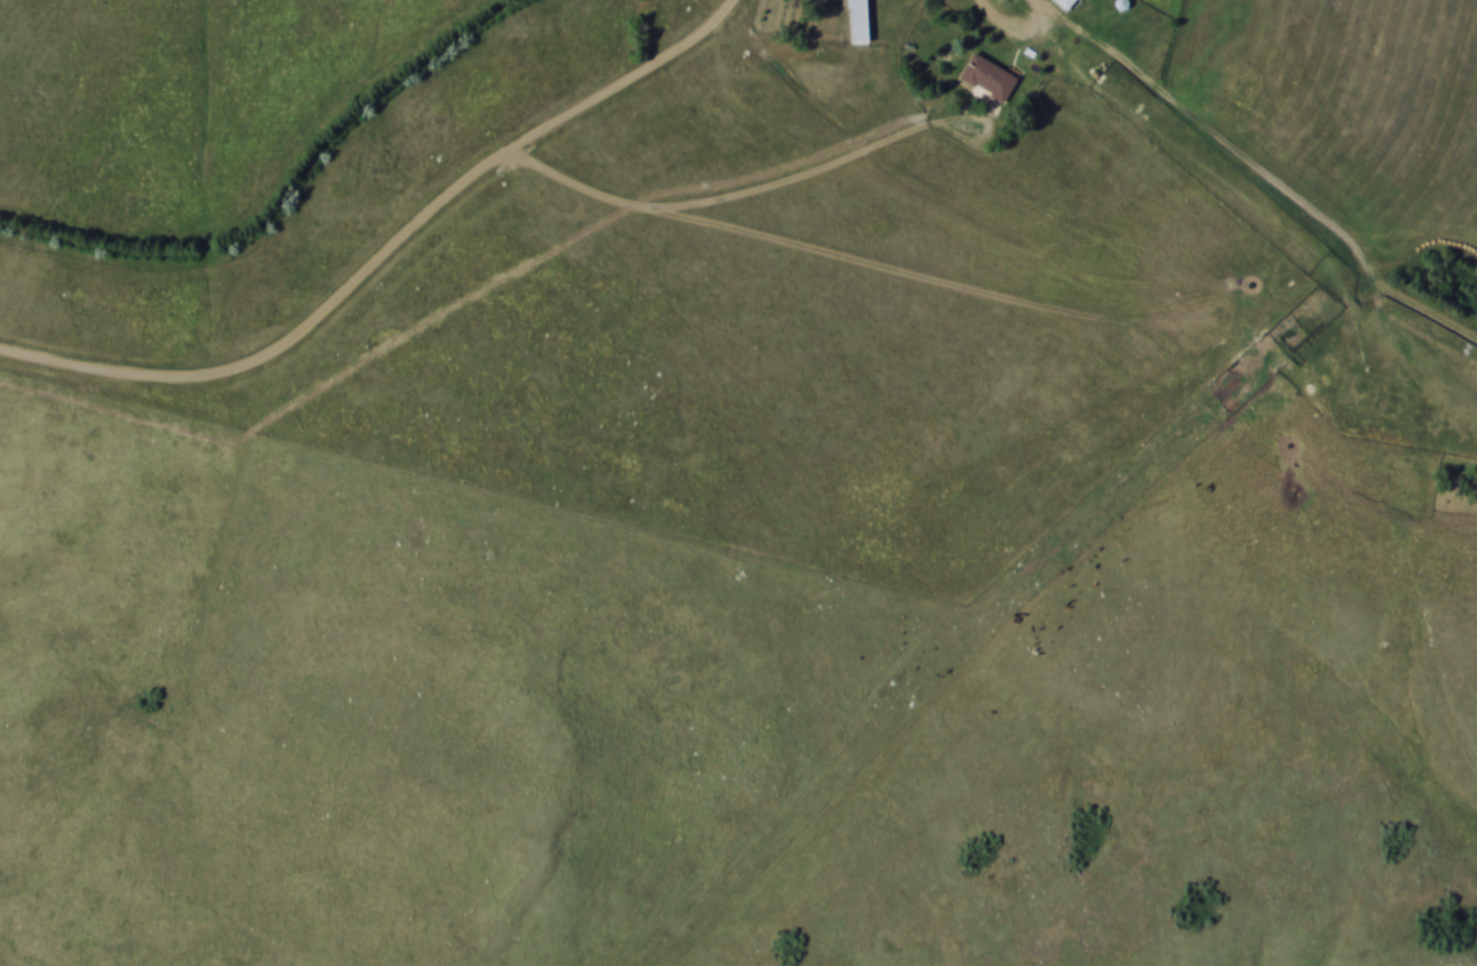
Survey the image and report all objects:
road: (1043, 3)
building: (1064, 3)
building: (858, 20)
road: (1017, 27)
building: (986, 77)
road: (1262, 170)
road: (718, 199)
road: (387, 251)
road: (935, 274)

